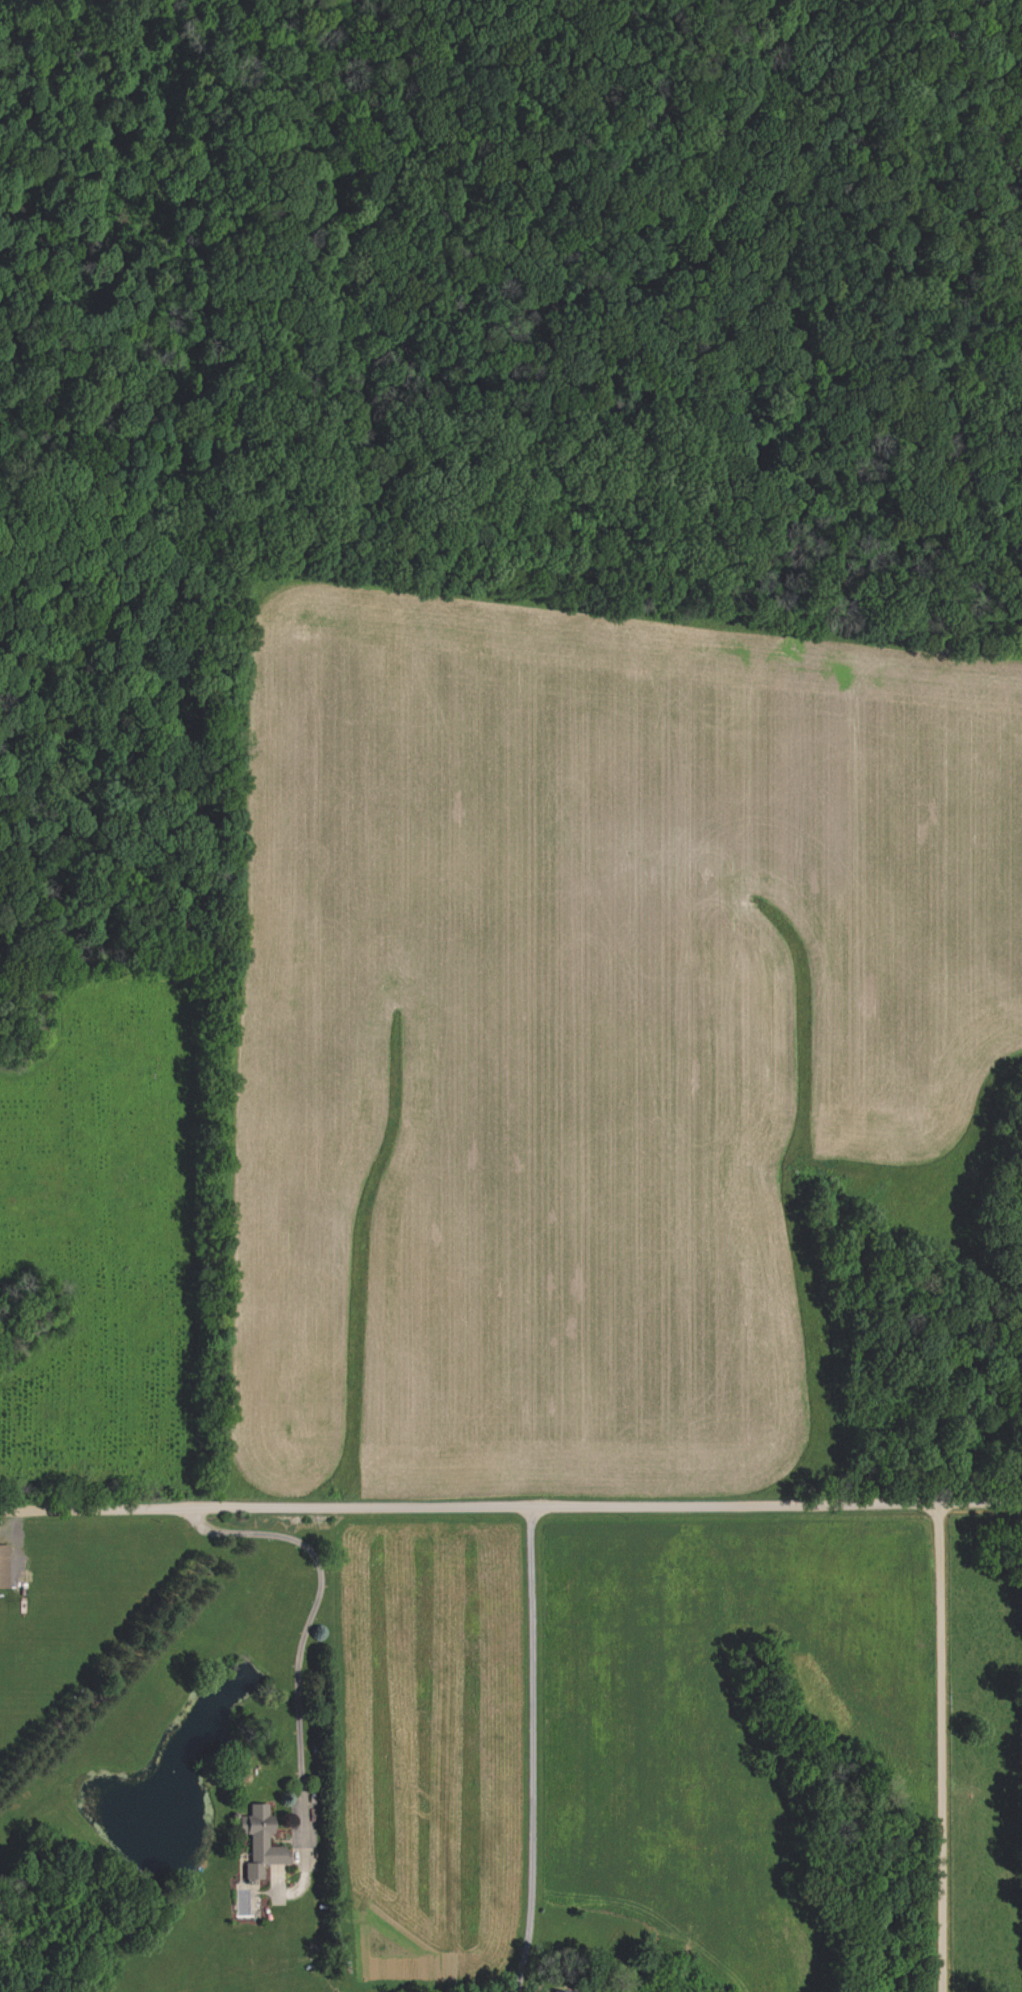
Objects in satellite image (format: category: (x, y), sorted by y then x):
road: (511, 1499)
building: (6, 1569)
road: (310, 1621)
road: (954, 1745)
road: (531, 1746)
building: (264, 1843)

